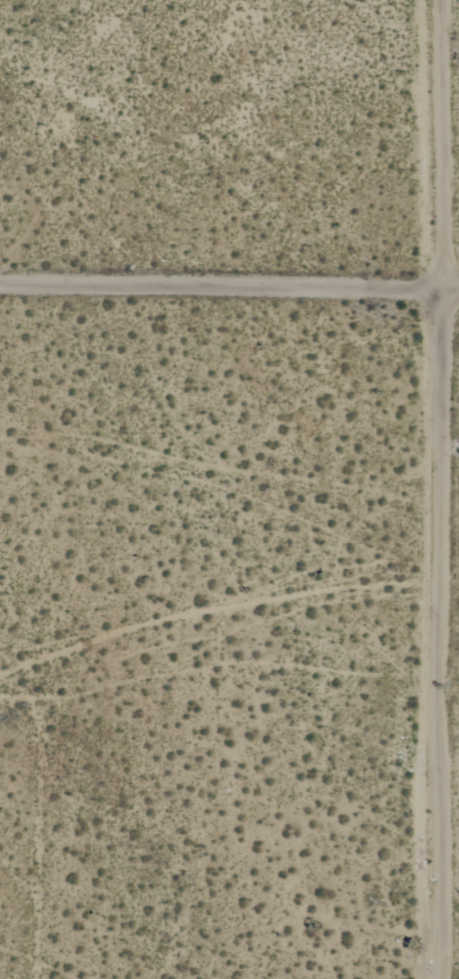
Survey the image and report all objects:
road: (442, 150)
road: (229, 296)
road: (440, 639)
road: (13, 689)
road: (22, 834)

